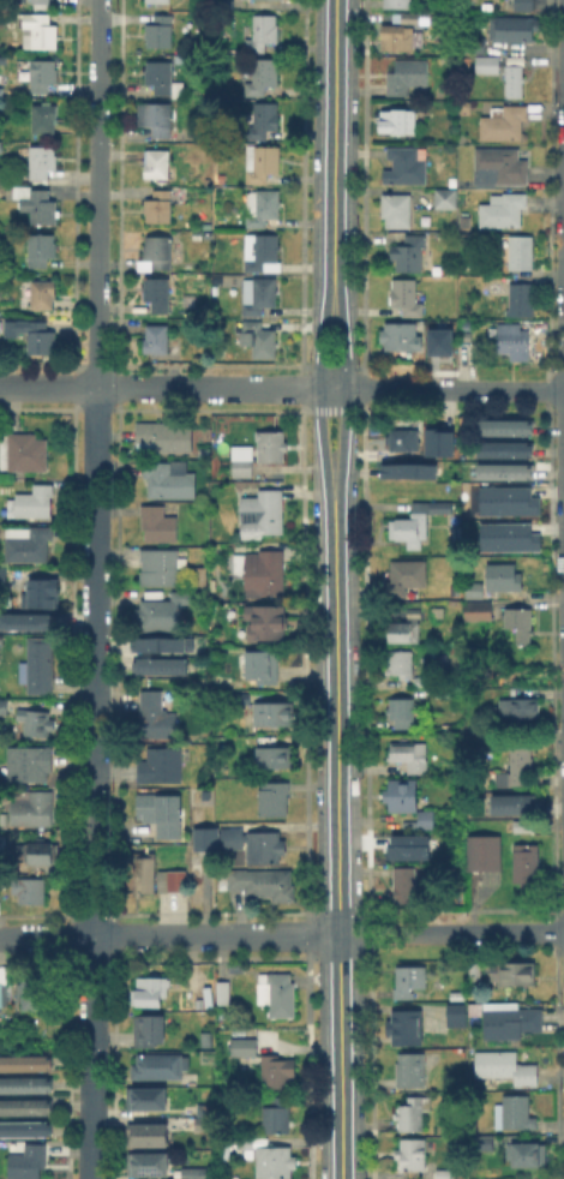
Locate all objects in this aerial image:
building: (157, 0)
building: (398, 2)
building: (40, 4)
building: (223, 4)
building: (522, 5)
building: (413, 18)
building: (512, 26)
building: (37, 30)
building: (158, 30)
building: (264, 32)
building: (398, 36)
building: (474, 44)
road: (530, 47)
building: (1, 58)
building: (510, 60)
building: (487, 62)
building: (42, 73)
building: (263, 74)
building: (406, 74)
building: (163, 78)
building: (515, 80)
building: (46, 118)
building: (157, 119)
building: (263, 119)
building: (401, 120)
building: (504, 121)
building: (0, 145)
building: (41, 160)
building: (264, 161)
building: (157, 163)
building: (406, 164)
building: (504, 164)
building: (445, 197)
building: (36, 203)
building: (161, 208)
building: (265, 208)
building: (397, 209)
building: (504, 210)
building: (221, 222)
building: (450, 222)
building: (464, 226)
building: (41, 247)
building: (157, 250)
building: (263, 252)
building: (410, 252)
building: (521, 252)
building: (157, 293)
building: (43, 294)
building: (260, 297)
building: (409, 297)
building: (521, 299)
building: (31, 334)
building: (409, 336)
building: (468, 336)
building: (156, 337)
building: (259, 337)
building: (438, 340)
building: (512, 341)
road: (166, 385)
road: (448, 388)
building: (505, 426)
building: (166, 438)
building: (436, 439)
building: (403, 441)
building: (272, 445)
building: (504, 448)
building: (23, 450)
building: (244, 468)
building: (406, 469)
building: (504, 469)
building: (170, 480)
building: (496, 499)
building: (34, 502)
building: (262, 513)
building: (414, 521)
building: (158, 523)
building: (506, 534)
building: (26, 543)
building: (184, 562)
building: (161, 565)
building: (262, 570)
building: (199, 576)
building: (504, 576)
building: (407, 577)
building: (4, 579)
road: (94, 588)
road: (335, 588)
building: (476, 588)
building: (37, 592)
building: (437, 610)
building: (479, 611)
building: (164, 614)
building: (23, 620)
building: (266, 621)
building: (521, 622)
building: (407, 626)
building: (166, 645)
building: (38, 664)
building: (402, 664)
building: (166, 666)
building: (264, 669)
building: (421, 680)
building: (236, 696)
building: (4, 707)
building: (515, 708)
building: (401, 711)
building: (160, 713)
building: (274, 714)
building: (35, 722)
building: (276, 755)
building: (413, 756)
building: (30, 762)
building: (522, 765)
building: (163, 767)
building: (502, 780)
building: (274, 797)
building: (410, 802)
building: (508, 804)
building: (31, 809)
building: (161, 813)
building: (4, 821)
building: (524, 826)
building: (238, 840)
building: (406, 845)
building: (484, 854)
building: (37, 855)
building: (527, 864)
building: (145, 873)
building: (173, 880)
building: (258, 884)
building: (406, 885)
building: (30, 891)
road: (452, 933)
road: (169, 935)
building: (475, 972)
building: (517, 975)
building: (409, 982)
building: (150, 993)
building: (223, 993)
building: (5, 994)
building: (37, 994)
building: (278, 994)
building: (457, 1023)
building: (511, 1024)
building: (406, 1029)
building: (151, 1031)
building: (210, 1040)
building: (245, 1052)
building: (26, 1064)
building: (158, 1067)
building: (508, 1069)
building: (410, 1071)
building: (277, 1072)
building: (25, 1085)
building: (144, 1097)
building: (26, 1108)
building: (209, 1111)
building: (414, 1113)
building: (277, 1114)
building: (516, 1114)
building: (206, 1124)
building: (26, 1131)
building: (146, 1133)
building: (245, 1144)
building: (414, 1156)
building: (527, 1156)
building: (144, 1162)
building: (276, 1162)
building: (28, 1163)
building: (192, 1172)
building: (445, 1174)

